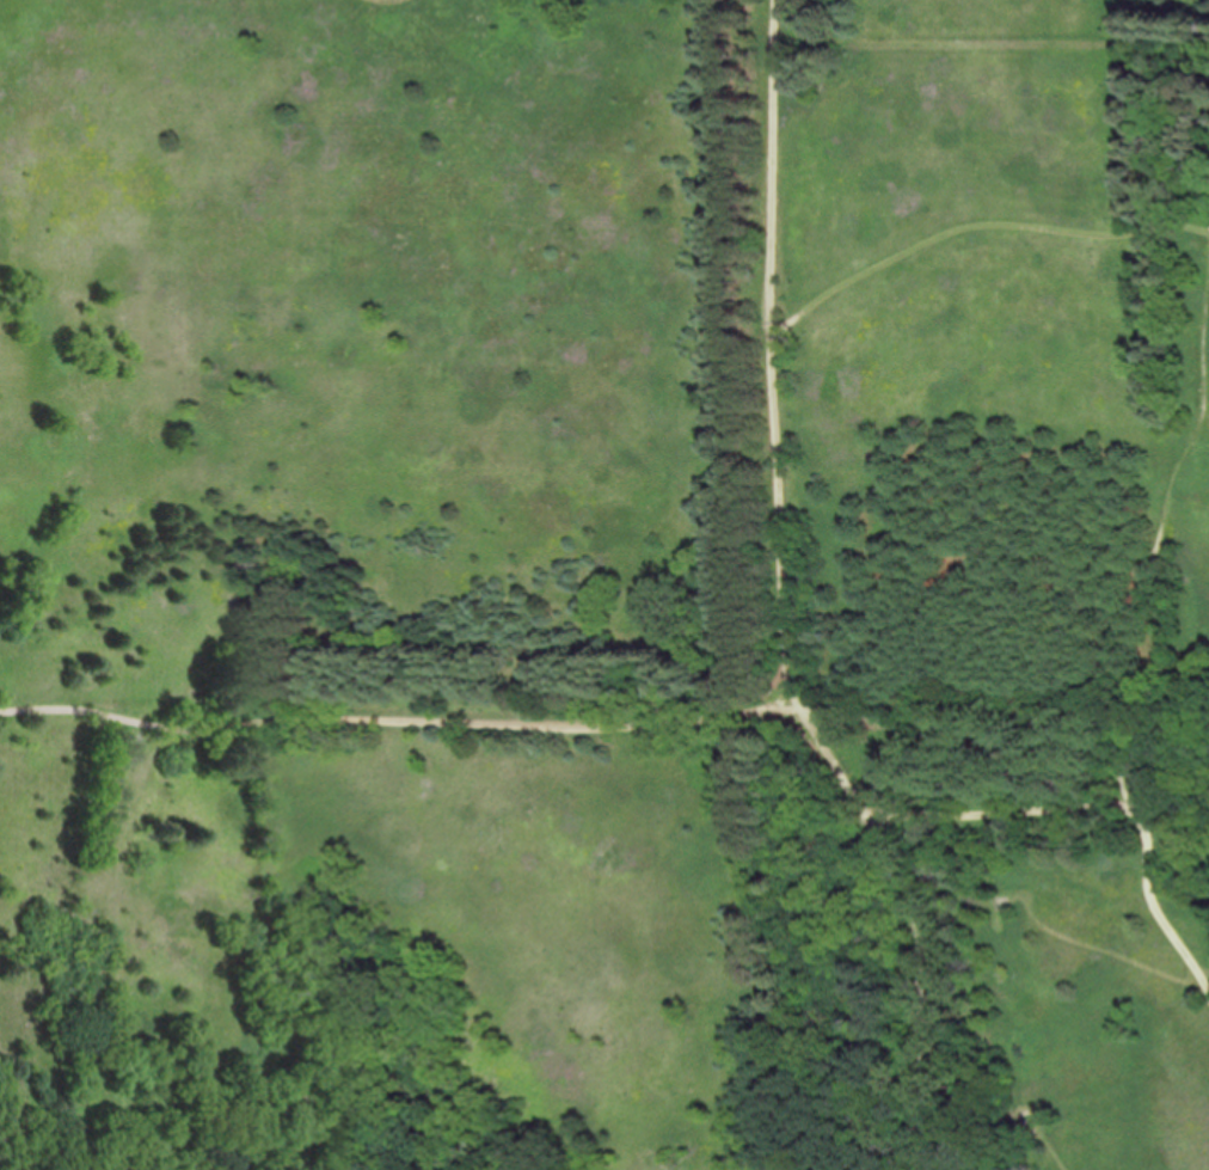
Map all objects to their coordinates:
road: (775, 166)
road: (980, 229)
road: (785, 516)
road: (1149, 550)
park: (604, 584)
road: (1005, 716)
road: (400, 724)
road: (1015, 819)
road: (904, 923)
road: (1164, 925)
road: (1104, 951)
road: (1205, 980)
road: (1049, 1145)

